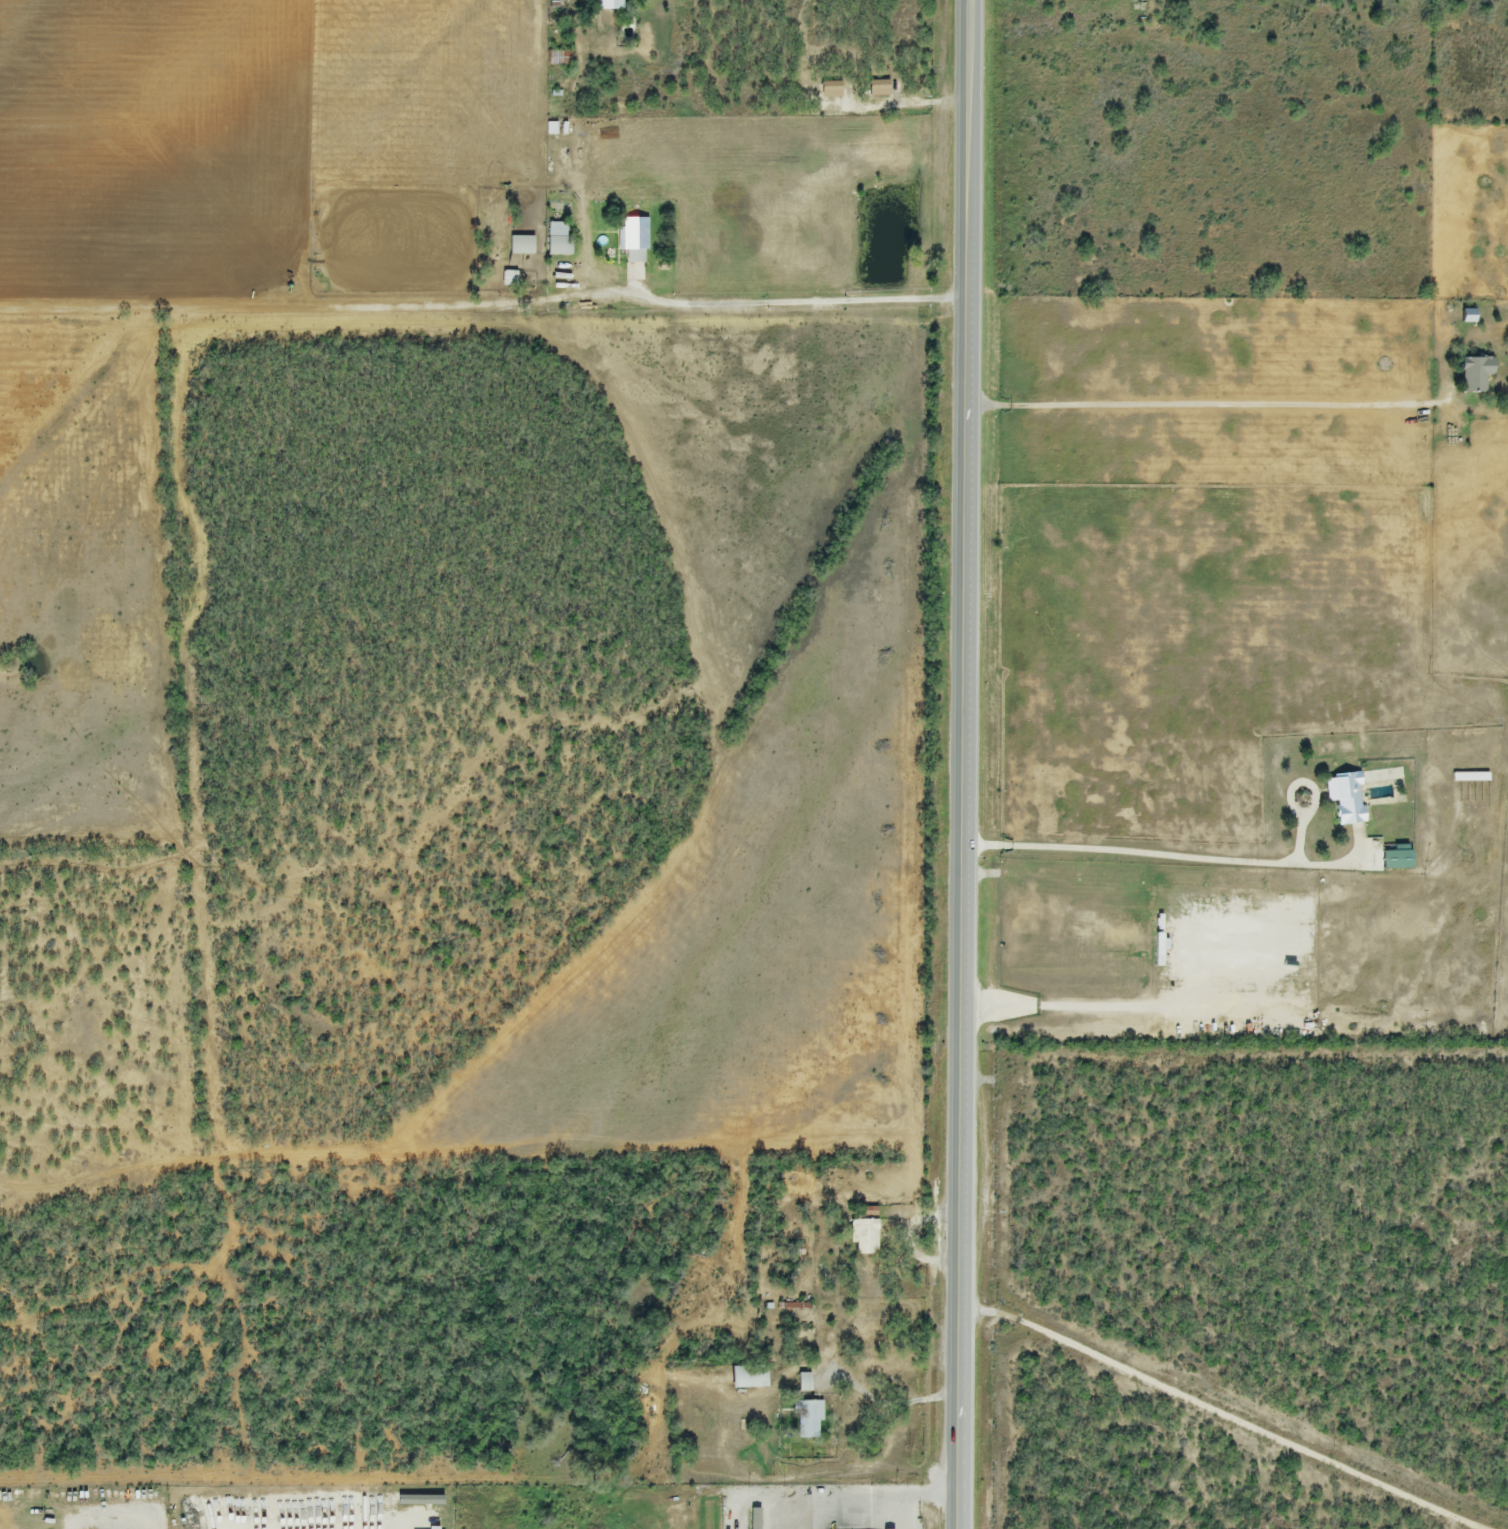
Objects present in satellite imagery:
building: (556, 4)
building: (608, 5)
building: (557, 240)
building: (632, 240)
building: (520, 246)
building: (507, 280)
road: (789, 306)
building: (1474, 375)
road: (1200, 405)
road: (970, 764)
building: (1344, 798)
road: (1183, 857)
road: (1074, 1001)
building: (865, 1238)
road: (836, 1343)
building: (753, 1378)
building: (802, 1383)
road: (1217, 1413)
building: (808, 1420)
road: (934, 1496)
road: (847, 1500)
road: (905, 1512)
road: (114, 1527)

